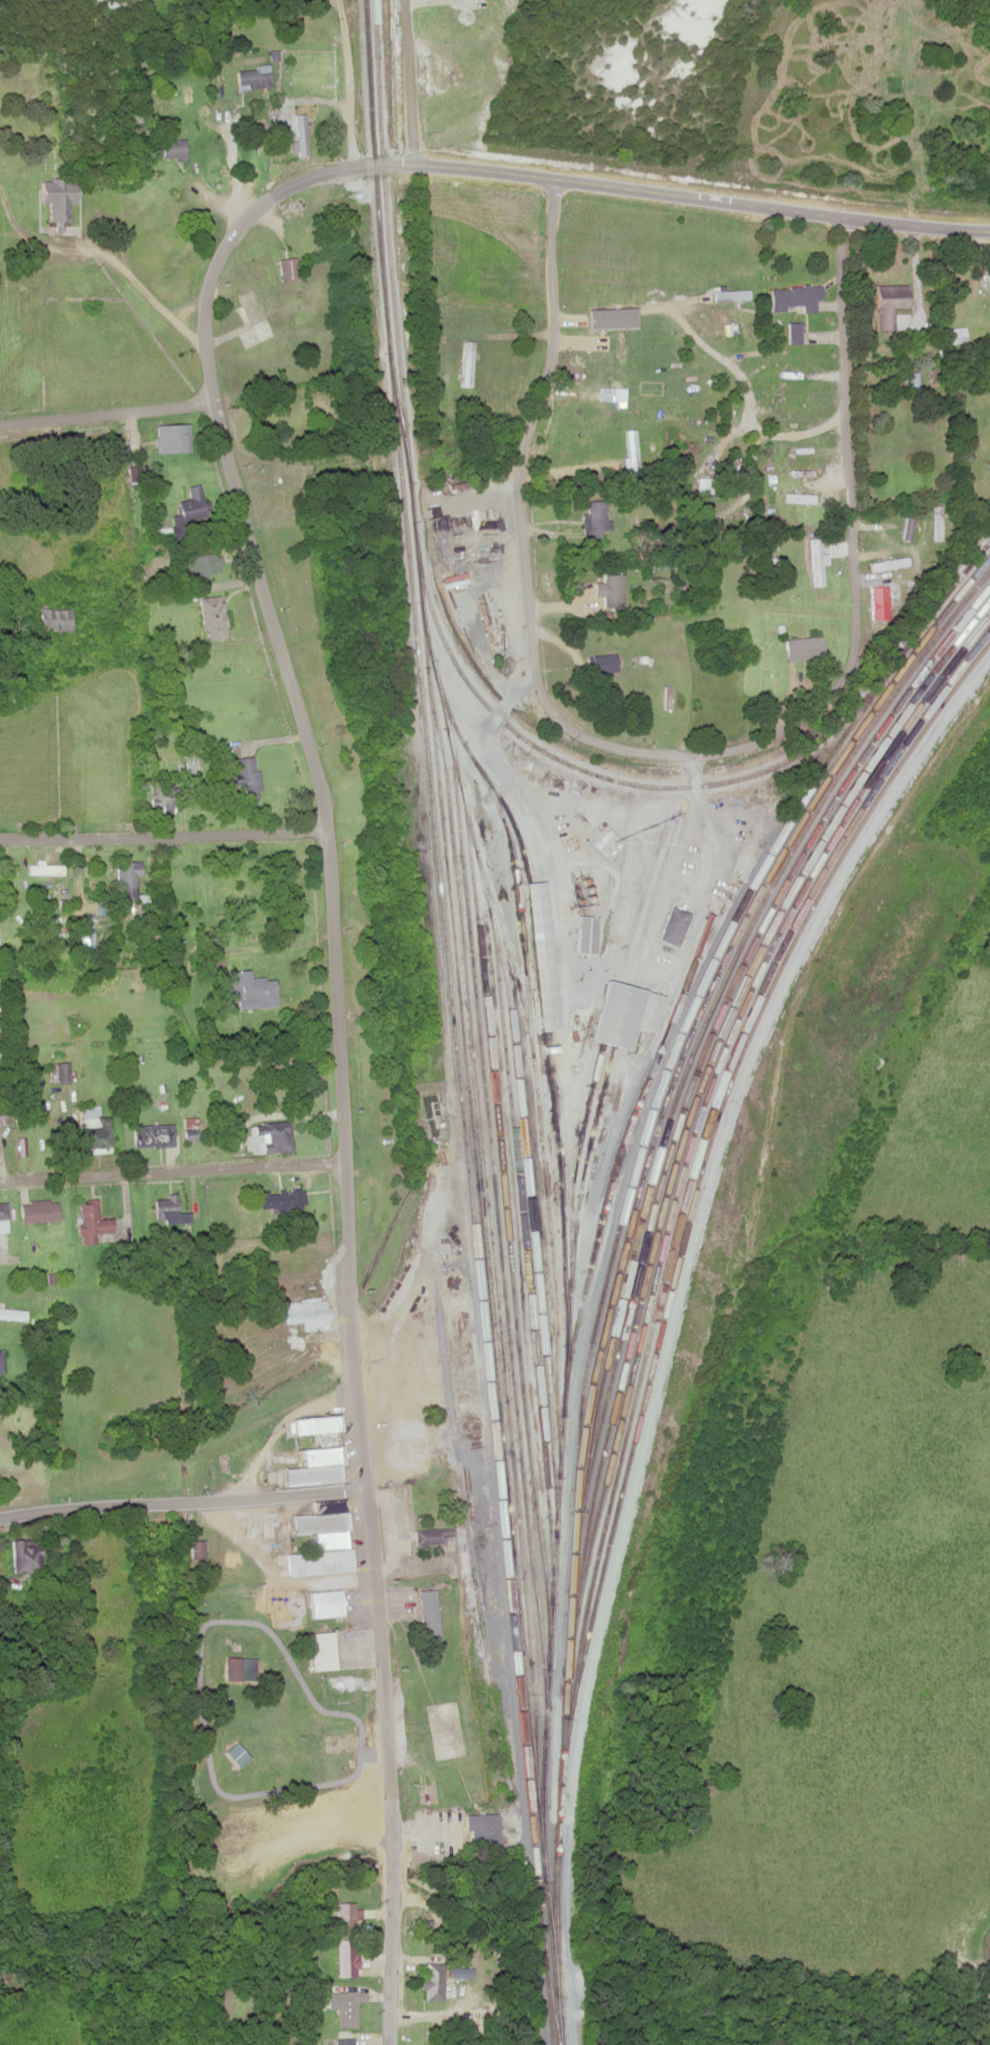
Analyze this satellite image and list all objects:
building: (251, 77)
road: (411, 81)
road: (345, 83)
building: (298, 133)
building: (170, 147)
building: (55, 197)
road: (701, 198)
building: (286, 267)
building: (497, 274)
building: (731, 294)
building: (794, 297)
building: (989, 302)
building: (248, 306)
building: (890, 306)
building: (793, 332)
building: (465, 362)
building: (934, 381)
building: (595, 403)
road: (105, 411)
building: (169, 436)
building: (703, 485)
building: (798, 497)
building: (189, 507)
building: (594, 518)
building: (936, 522)
building: (907, 528)
building: (815, 561)
building: (200, 563)
building: (888, 563)
railway: (421, 568)
building: (453, 578)
building: (612, 590)
building: (207, 610)
building: (50, 619)
building: (802, 648)
building: (601, 663)
road: (308, 749)
road: (661, 750)
building: (243, 778)
building: (161, 794)
railway: (509, 825)
road: (162, 835)
building: (42, 868)
building: (124, 875)
building: (674, 925)
building: (585, 934)
building: (539, 956)
railway: (711, 958)
building: (209, 959)
railway: (722, 983)
building: (246, 989)
building: (624, 1014)
railway: (723, 1020)
railway: (713, 1021)
railway: (455, 1022)
railway: (549, 1060)
railway: (535, 1065)
building: (56, 1073)
railway: (702, 1092)
railway: (708, 1105)
building: (89, 1126)
building: (148, 1132)
building: (267, 1135)
railway: (580, 1137)
railway: (705, 1146)
road: (172, 1172)
railway: (581, 1173)
building: (280, 1198)
railway: (520, 1207)
building: (37, 1210)
building: (168, 1210)
building: (2, 1212)
railway: (506, 1212)
railway: (531, 1217)
building: (91, 1221)
railway: (491, 1235)
railway: (499, 1240)
railway: (485, 1251)
railway: (619, 1251)
building: (306, 1312)
railway: (567, 1353)
building: (0, 1364)
building: (314, 1424)
building: (3, 1433)
building: (315, 1466)
road: (182, 1501)
building: (434, 1534)
building: (321, 1539)
building: (195, 1548)
building: (23, 1559)
building: (325, 1602)
building: (429, 1616)
building: (238, 1667)
road: (381, 1681)
building: (235, 1754)
building: (347, 1826)
building: (482, 1828)
building: (346, 1957)
road: (388, 1961)
building: (432, 1981)
building: (344, 2005)
crop: (39, 2024)
building: (344, 2041)

